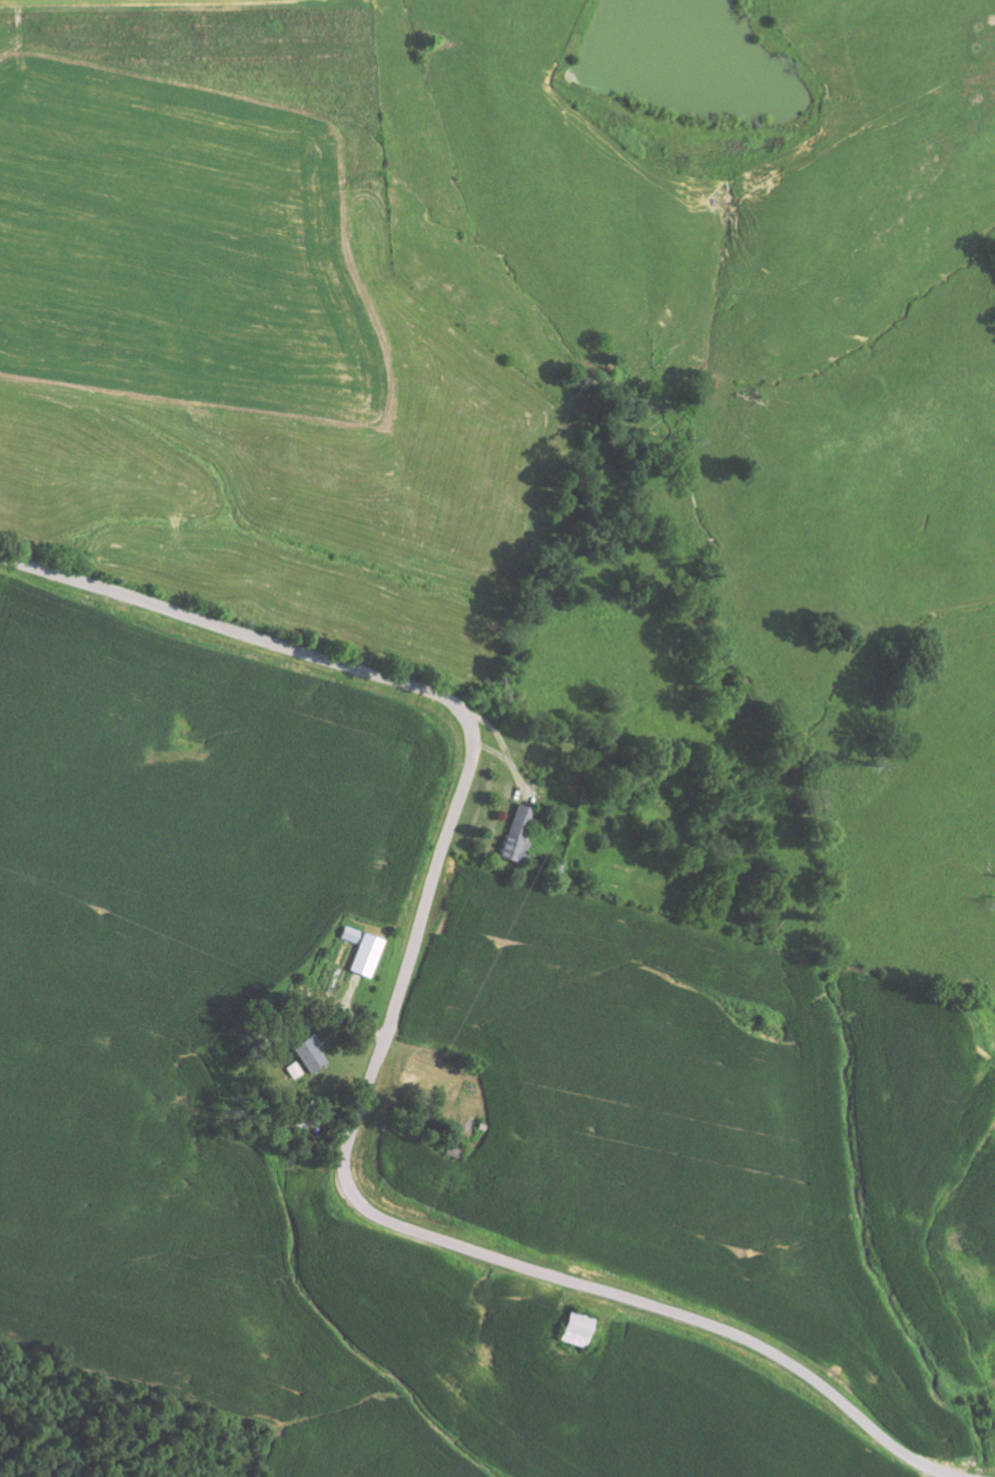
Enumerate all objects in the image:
building: (517, 833)
building: (365, 954)
road: (384, 1043)
building: (310, 1053)
building: (575, 1329)

